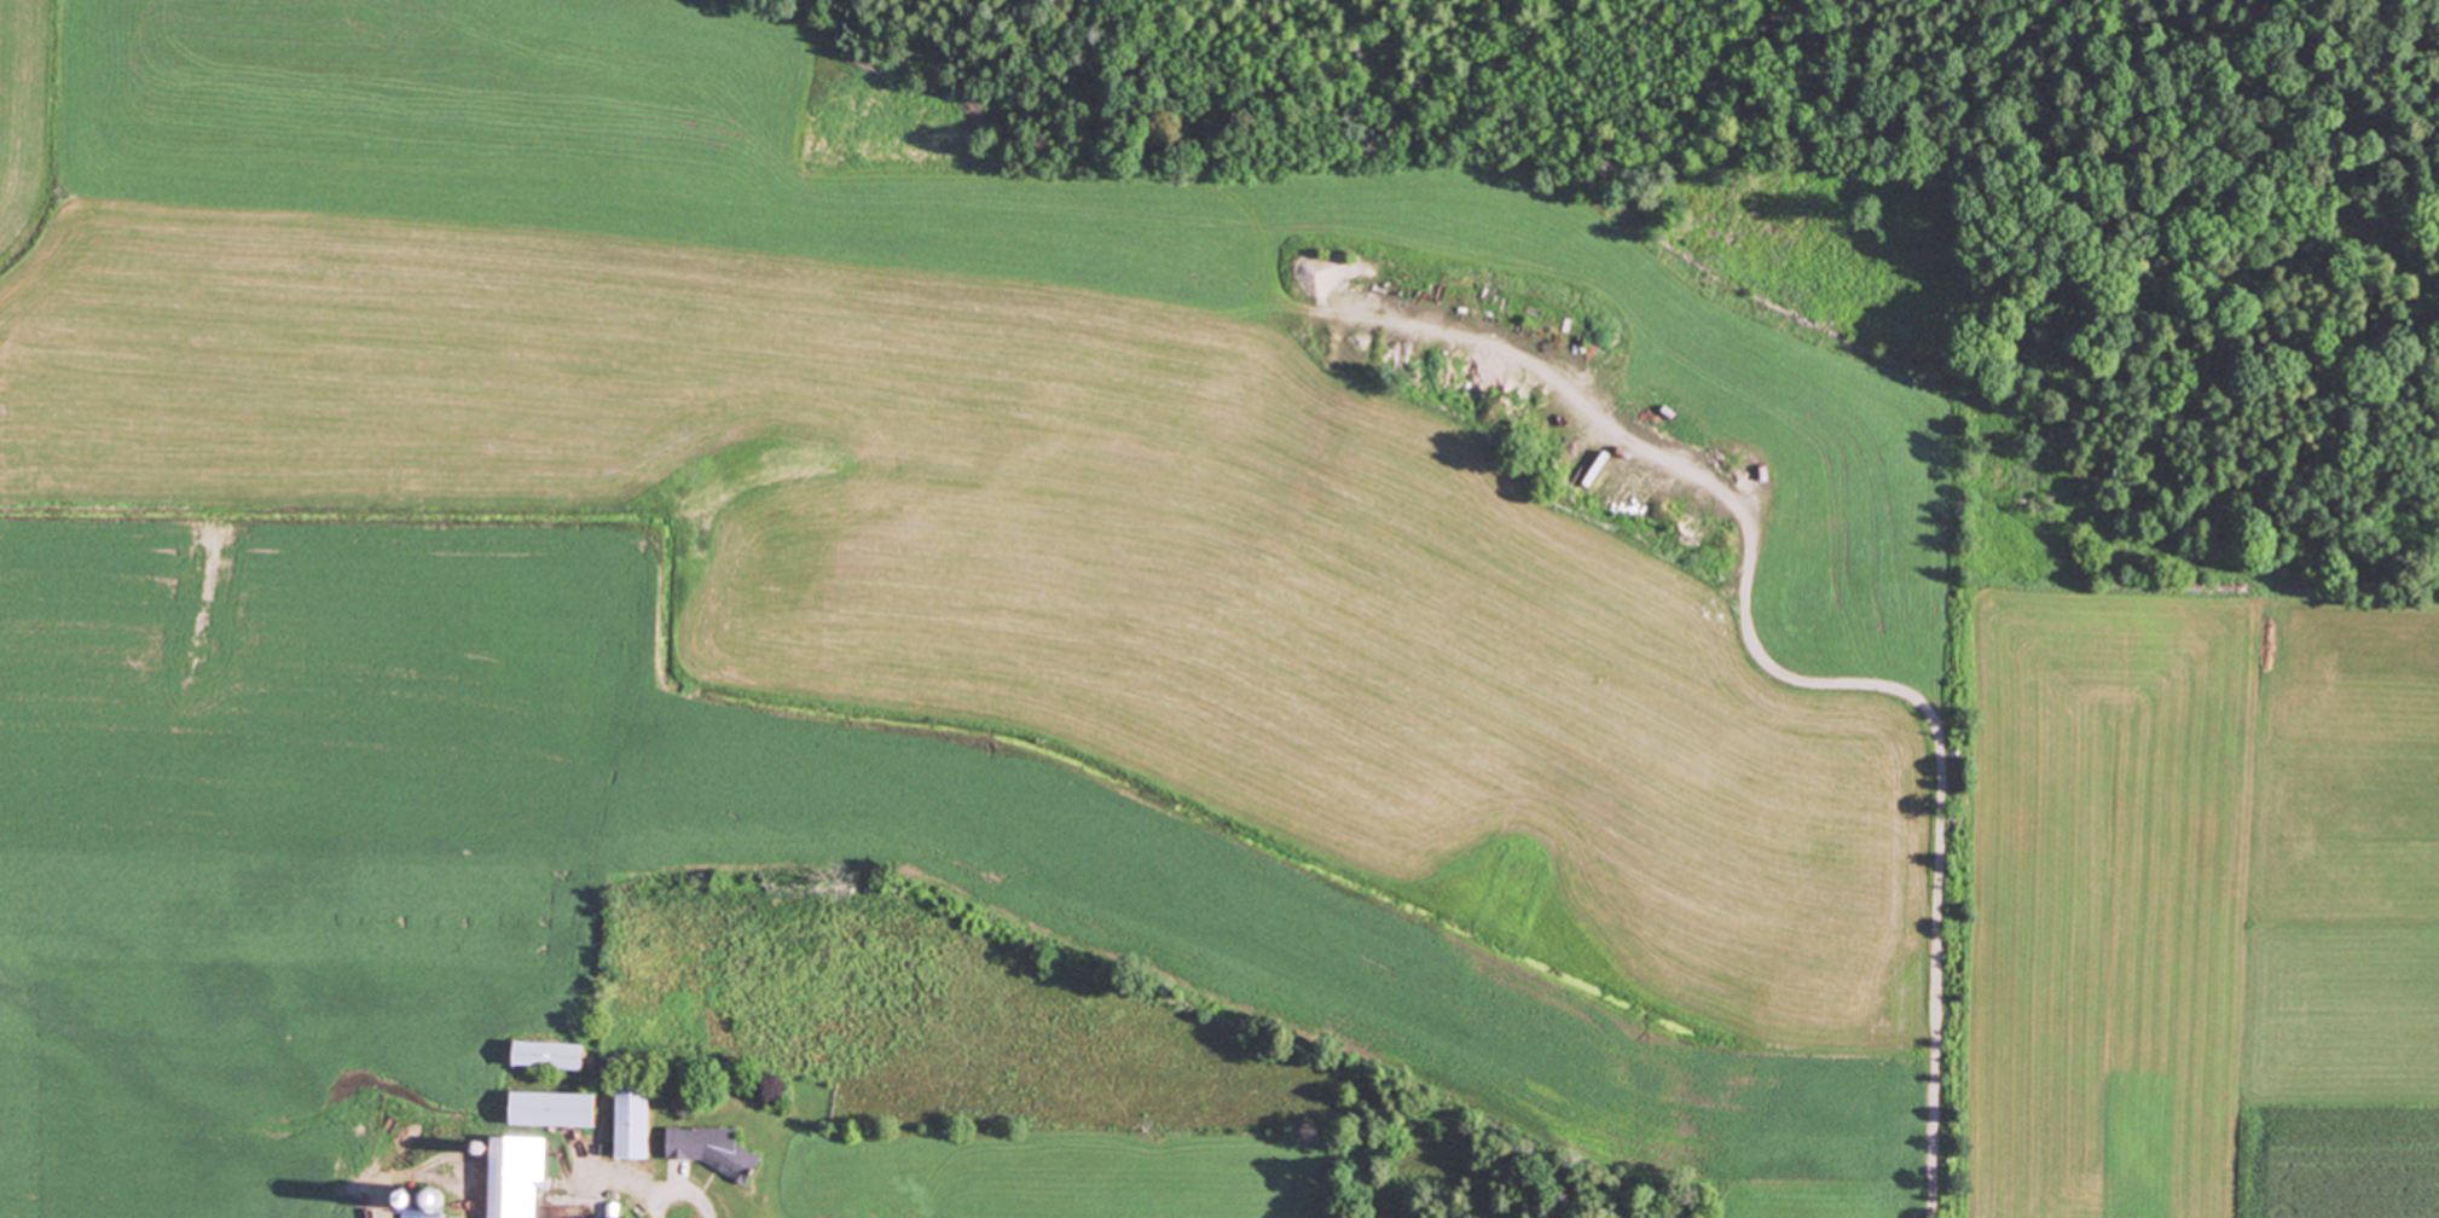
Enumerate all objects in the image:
road: (1824, 681)
building: (543, 1052)
building: (549, 1107)
building: (628, 1118)
building: (703, 1147)
building: (511, 1174)
road: (622, 1181)
road: (410, 1190)
road: (689, 1190)
building: (424, 1203)

